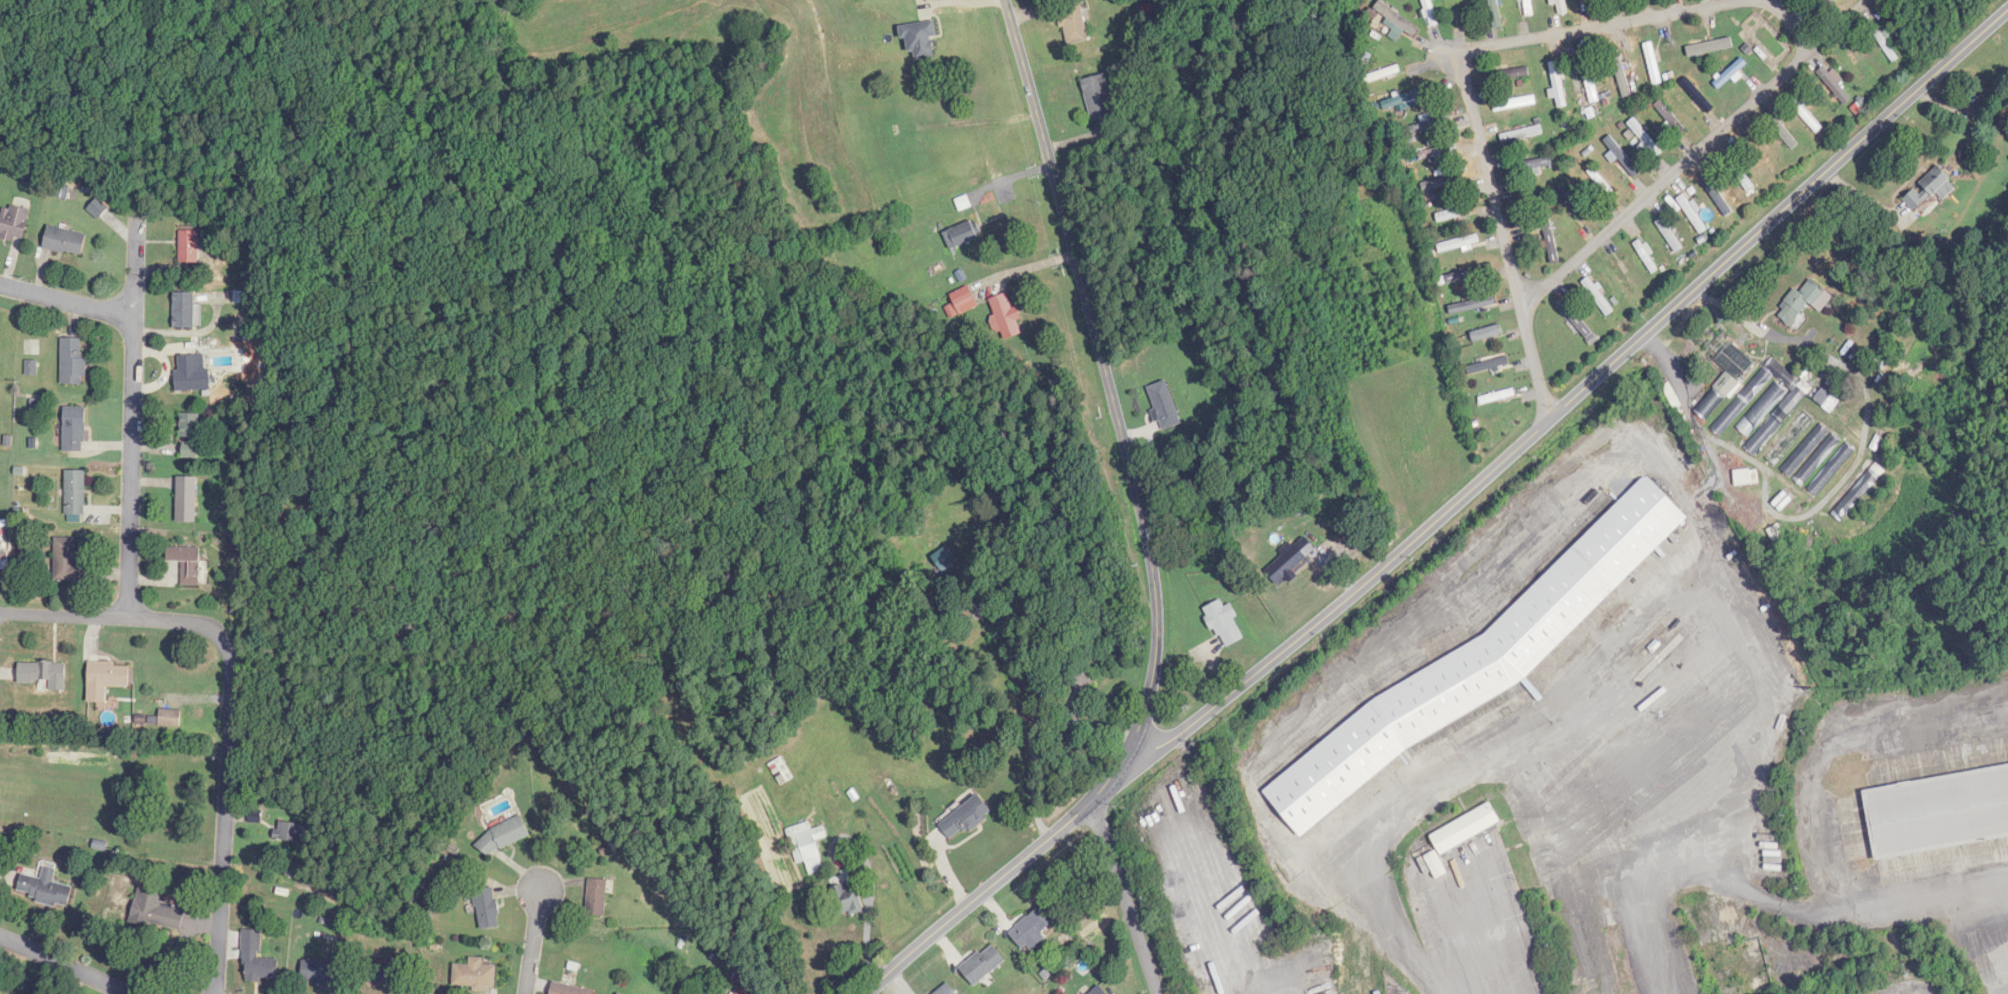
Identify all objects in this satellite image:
building: (1622, 1)
building: (1528, 5)
building: (1561, 7)
building: (1430, 12)
building: (1497, 13)
building: (1399, 20)
building: (1073, 21)
road: (1789, 21)
road: (1588, 28)
building: (919, 39)
building: (1710, 46)
building: (1653, 62)
building: (1620, 72)
building: (1381, 74)
building: (1589, 78)
building: (1558, 84)
building: (1835, 85)
building: (1697, 96)
building: (1098, 97)
building: (1405, 98)
building: (1515, 103)
building: (1430, 125)
building: (1522, 134)
building: (1646, 137)
building: (1439, 151)
building: (1623, 156)
building: (1536, 163)
road: (1682, 166)
building: (1739, 171)
building: (1601, 181)
building: (1443, 182)
building: (1938, 184)
road: (1865, 198)
building: (1913, 200)
building: (1573, 203)
building: (1454, 213)
building: (14, 223)
building: (961, 235)
road: (1503, 235)
building: (1670, 235)
building: (1550, 239)
building: (65, 241)
building: (1459, 244)
building: (189, 247)
building: (1647, 256)
building: (1469, 274)
building: (1622, 277)
building: (1598, 297)
building: (963, 301)
road: (67, 302)
building: (1804, 302)
building: (1472, 305)
building: (184, 310)
building: (1005, 316)
building: (1576, 320)
building: (1487, 334)
building: (73, 361)
building: (1488, 366)
building: (193, 373)
building: (1726, 379)
road: (1107, 381)
road: (1576, 395)
building: (1497, 397)
building: (1827, 401)
building: (1164, 405)
building: (1764, 406)
road: (132, 417)
building: (74, 429)
building: (190, 435)
building: (1791, 439)
building: (1812, 455)
building: (1831, 470)
building: (1747, 477)
building: (1859, 492)
building: (75, 493)
building: (187, 499)
building: (944, 558)
building: (1289, 560)
building: (69, 562)
building: (187, 563)
road: (114, 619)
building: (1225, 624)
building: (1478, 662)
building: (44, 674)
building: (106, 679)
building: (1079, 687)
road: (1037, 711)
building: (170, 718)
road: (1478, 759)
building: (782, 771)
road: (1110, 787)
building: (1937, 806)
road: (225, 817)
building: (965, 818)
building: (292, 832)
building: (1460, 836)
building: (503, 837)
building: (808, 846)
building: (45, 888)
building: (596, 898)
road: (975, 898)
building: (847, 899)
road: (1126, 899)
building: (487, 909)
building: (157, 910)
building: (1033, 929)
road: (533, 942)
building: (257, 960)
building: (982, 964)
road: (66, 965)
building: (320, 971)
building: (386, 972)
building: (474, 975)
building: (1734, 987)
building: (569, 989)
building: (946, 990)
building: (742, 991)
building: (1098, 991)
building: (619, 993)

